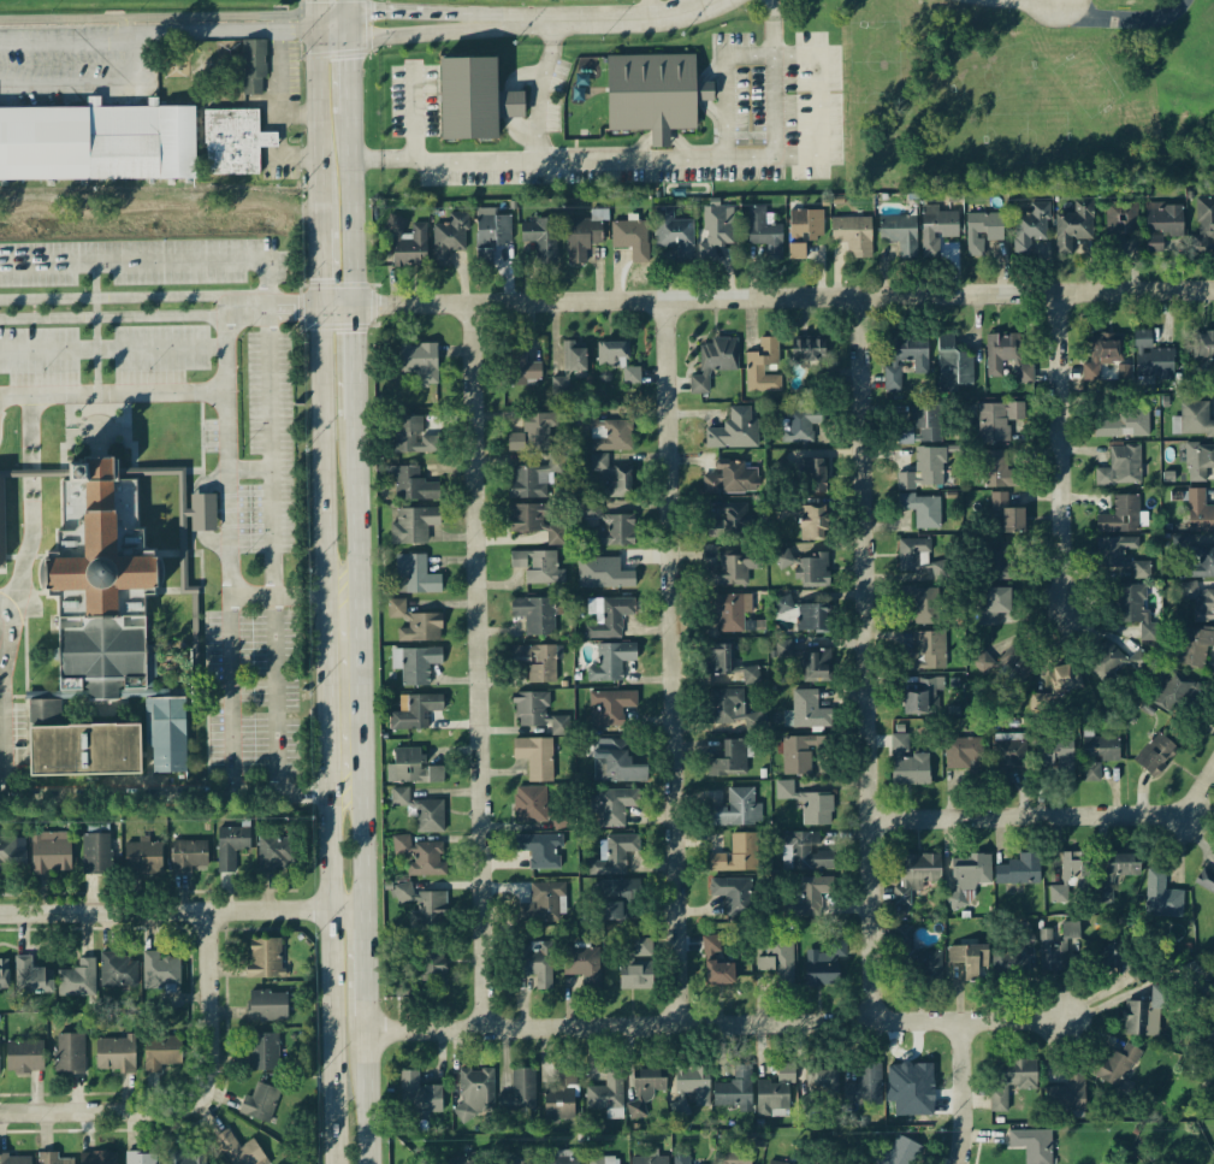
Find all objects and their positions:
road: (347, 5)
road: (663, 10)
traffic signals: (348, 11)
road: (401, 11)
road: (310, 13)
road: (1126, 19)
road: (614, 22)
traffic signals: (312, 28)
road: (214, 30)
road: (402, 36)
traffic signals: (348, 37)
road: (66, 47)
road: (348, 67)
building: (174, 69)
building: (254, 69)
road: (83, 82)
road: (729, 84)
road: (540, 91)
building: (661, 98)
road: (416, 113)
road: (314, 129)
building: (96, 143)
building: (233, 143)
road: (384, 159)
road: (675, 160)
road: (176, 214)
road: (354, 215)
building: (1166, 221)
building: (1204, 221)
building: (1121, 225)
building: (719, 226)
building: (1074, 226)
building: (1031, 228)
building: (936, 230)
building: (493, 232)
building: (764, 232)
building: (983, 232)
building: (804, 234)
building: (899, 235)
building: (675, 236)
building: (853, 236)
building: (541, 240)
building: (630, 240)
building: (582, 241)
building: (448, 242)
building: (411, 248)
road: (156, 261)
road: (318, 268)
road: (766, 299)
traffic signals: (319, 307)
traffic signals: (355, 307)
road: (159, 309)
road: (113, 347)
building: (810, 350)
building: (1204, 353)
building: (906, 358)
building: (1007, 358)
building: (1101, 359)
building: (1151, 360)
building: (617, 361)
building: (713, 362)
road: (356, 364)
building: (419, 366)
building: (570, 366)
building: (953, 366)
building: (762, 367)
building: (525, 374)
building: (1126, 374)
road: (129, 392)
building: (1195, 420)
building: (997, 421)
building: (799, 425)
building: (1125, 426)
building: (925, 427)
building: (735, 431)
building: (533, 433)
building: (608, 435)
building: (414, 437)
road: (320, 443)
road: (1061, 453)
building: (1198, 463)
building: (1121, 468)
building: (997, 471)
building: (925, 472)
building: (612, 477)
building: (812, 477)
building: (534, 479)
building: (733, 479)
road: (217, 480)
building: (411, 486)
road: (30, 489)
road: (359, 500)
building: (923, 510)
road: (205, 513)
building: (1198, 514)
building: (203, 515)
building: (1007, 515)
building: (1121, 516)
building: (729, 521)
building: (537, 522)
building: (813, 524)
road: (277, 525)
building: (415, 525)
building: (609, 527)
building: (2, 528)
road: (219, 546)
road: (232, 546)
building: (1121, 560)
building: (1196, 561)
building: (919, 562)
building: (1001, 565)
building: (539, 568)
building: (807, 569)
building: (733, 571)
building: (606, 574)
building: (415, 577)
building: (89, 581)
building: (1200, 603)
building: (994, 604)
building: (922, 605)
building: (1135, 610)
building: (732, 613)
building: (535, 615)
building: (805, 616)
building: (611, 619)
building: (415, 625)
building: (1194, 648)
building: (928, 652)
road: (865, 661)
building: (611, 662)
building: (1114, 662)
building: (537, 663)
road: (674, 663)
building: (415, 666)
building: (728, 666)
road: (478, 667)
building: (817, 667)
building: (1003, 673)
building: (1065, 679)
road: (362, 683)
road: (326, 684)
road: (8, 696)
building: (920, 698)
building: (1180, 698)
building: (1042, 703)
building: (610, 708)
building: (733, 710)
building: (533, 711)
building: (809, 711)
building: (48, 713)
building: (416, 713)
building: (563, 727)
building: (159, 733)
building: (72, 746)
building: (1011, 752)
building: (1097, 755)
building: (1055, 756)
building: (1155, 756)
building: (535, 757)
building: (807, 757)
building: (966, 757)
road: (292, 760)
building: (729, 762)
building: (908, 764)
building: (617, 766)
building: (414, 768)
road: (146, 786)
road: (345, 786)
road: (308, 790)
road: (327, 798)
building: (615, 806)
building: (535, 809)
building: (735, 810)
building: (817, 811)
building: (422, 813)
road: (1049, 817)
road: (366, 846)
building: (231, 847)
building: (10, 851)
building: (540, 851)
building: (277, 853)
building: (805, 853)
building: (51, 855)
building: (96, 855)
building: (614, 855)
building: (143, 856)
building: (738, 856)
building: (189, 857)
building: (422, 857)
building: (1019, 871)
building: (1119, 873)
building: (916, 875)
building: (967, 878)
building: (1072, 878)
building: (1206, 881)
building: (734, 894)
building: (812, 897)
building: (1161, 897)
building: (617, 898)
building: (543, 905)
building: (422, 906)
road: (183, 916)
building: (1059, 946)
building: (837, 949)
building: (265, 959)
building: (778, 959)
building: (1013, 959)
building: (969, 961)
road: (368, 962)
building: (537, 963)
building: (584, 965)
building: (716, 965)
building: (639, 967)
building: (929, 967)
building: (419, 969)
building: (118, 973)
building: (1137, 973)
building: (161, 974)
building: (4, 975)
building: (822, 977)
building: (31, 979)
building: (77, 981)
road: (332, 985)
building: (267, 1008)
building: (1137, 1020)
road: (718, 1026)
building: (161, 1053)
building: (262, 1053)
building: (70, 1054)
building: (116, 1056)
building: (24, 1058)
building: (0, 1060)
building: (1118, 1066)
building: (1009, 1081)
building: (865, 1087)
building: (650, 1088)
road: (369, 1089)
building: (821, 1089)
building: (692, 1091)
building: (474, 1092)
building: (776, 1092)
road: (963, 1092)
building: (520, 1093)
building: (559, 1094)
building: (606, 1094)
building: (1068, 1094)
building: (419, 1095)
building: (733, 1095)
building: (918, 1095)
road: (193, 1103)
building: (260, 1104)
building: (1032, 1145)
building: (239, 1151)
building: (901, 1152)
building: (563, 1157)
building: (141, 1158)
building: (185, 1158)
building: (55, 1159)
building: (99, 1159)
building: (470, 1159)
building: (734, 1159)
building: (14, 1160)
building: (682, 1160)
building: (603, 1162)
building: (650, 1162)
building: (774, 1163)

